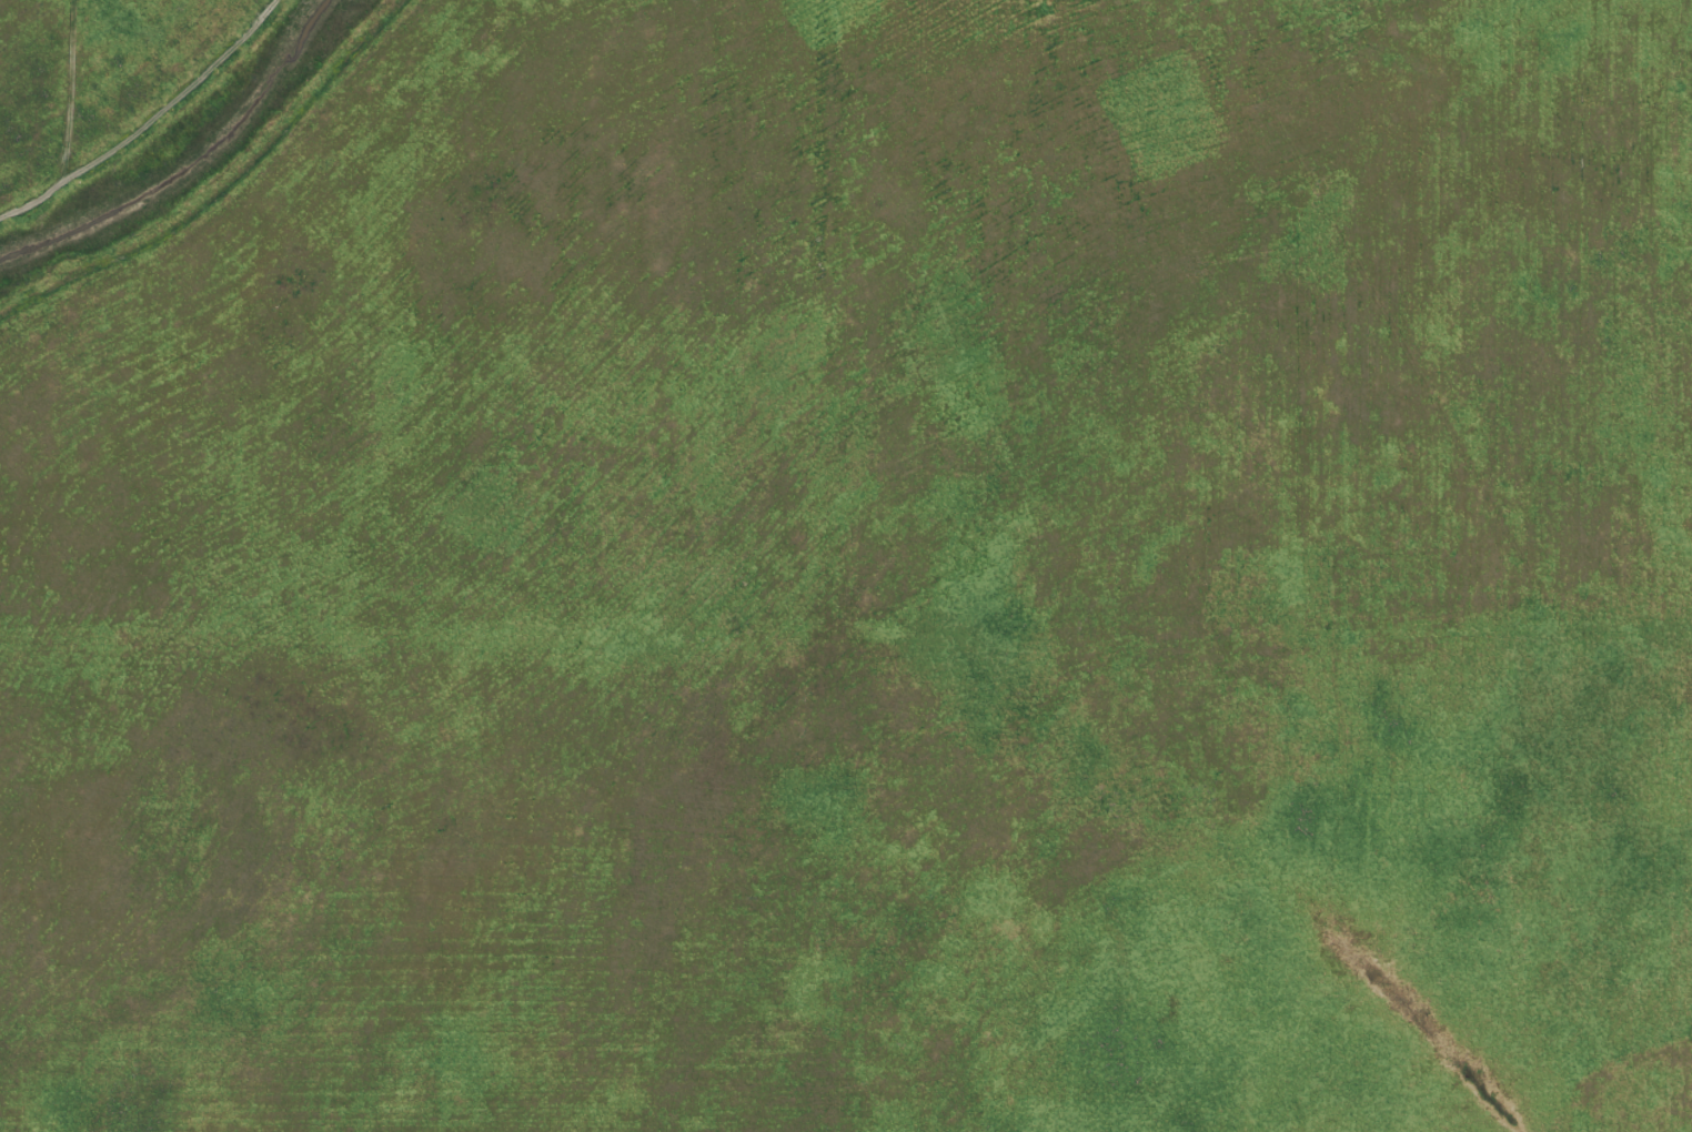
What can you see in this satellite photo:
river: (194, 166)

